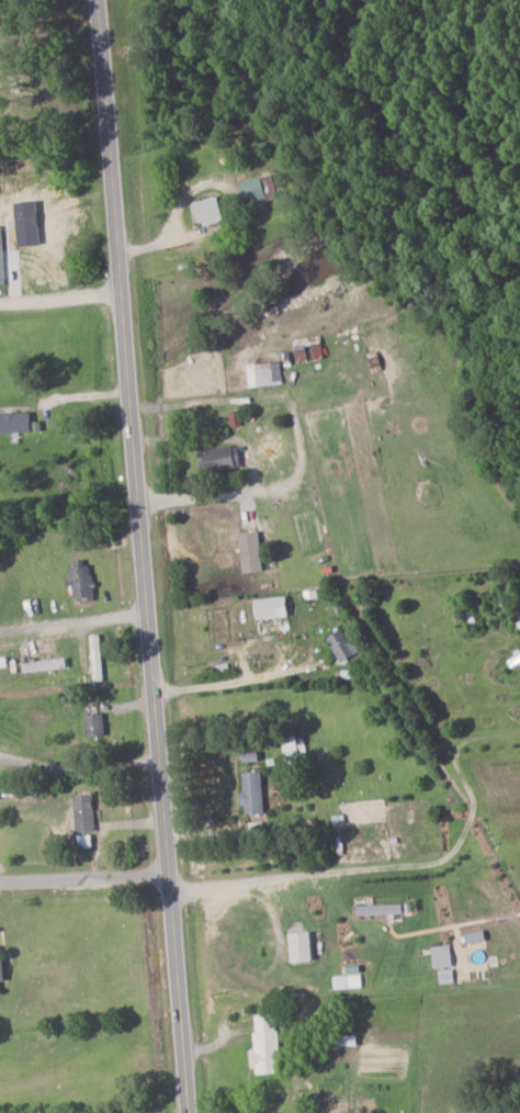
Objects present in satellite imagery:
building: (256, 190)
building: (211, 211)
road: (60, 299)
building: (265, 373)
road: (183, 403)
building: (18, 423)
building: (272, 446)
building: (224, 459)
road: (248, 490)
road: (143, 555)
building: (82, 581)
building: (275, 607)
road: (74, 623)
building: (344, 645)
building: (512, 657)
building: (49, 664)
road: (235, 682)
building: (256, 794)
building: (0, 796)
building: (87, 813)
road: (275, 872)
building: (376, 910)
building: (443, 956)
building: (3, 971)
building: (448, 976)
building: (268, 1044)

